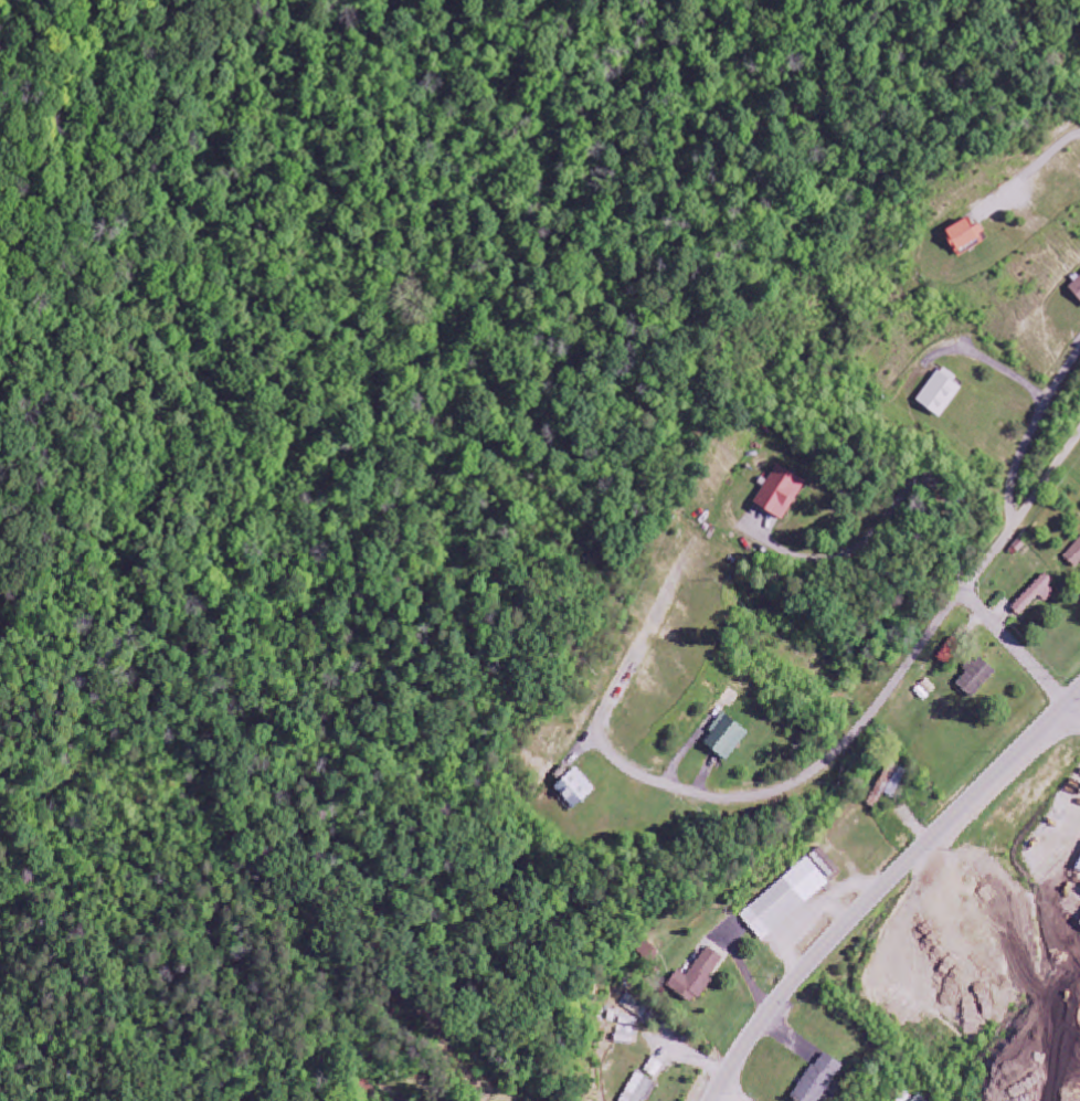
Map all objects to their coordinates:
building: (964, 236)
building: (1076, 288)
building: (941, 393)
building: (781, 493)
building: (1074, 557)
building: (1035, 596)
road: (1015, 648)
road: (906, 666)
building: (976, 679)
road: (787, 687)
building: (727, 739)
road: (1052, 749)
building: (888, 785)
building: (576, 791)
road: (693, 796)
road: (885, 886)
building: (791, 896)
building: (697, 978)
road: (587, 991)
building: (654, 1069)
building: (819, 1080)
building: (639, 1090)
building: (919, 1099)

